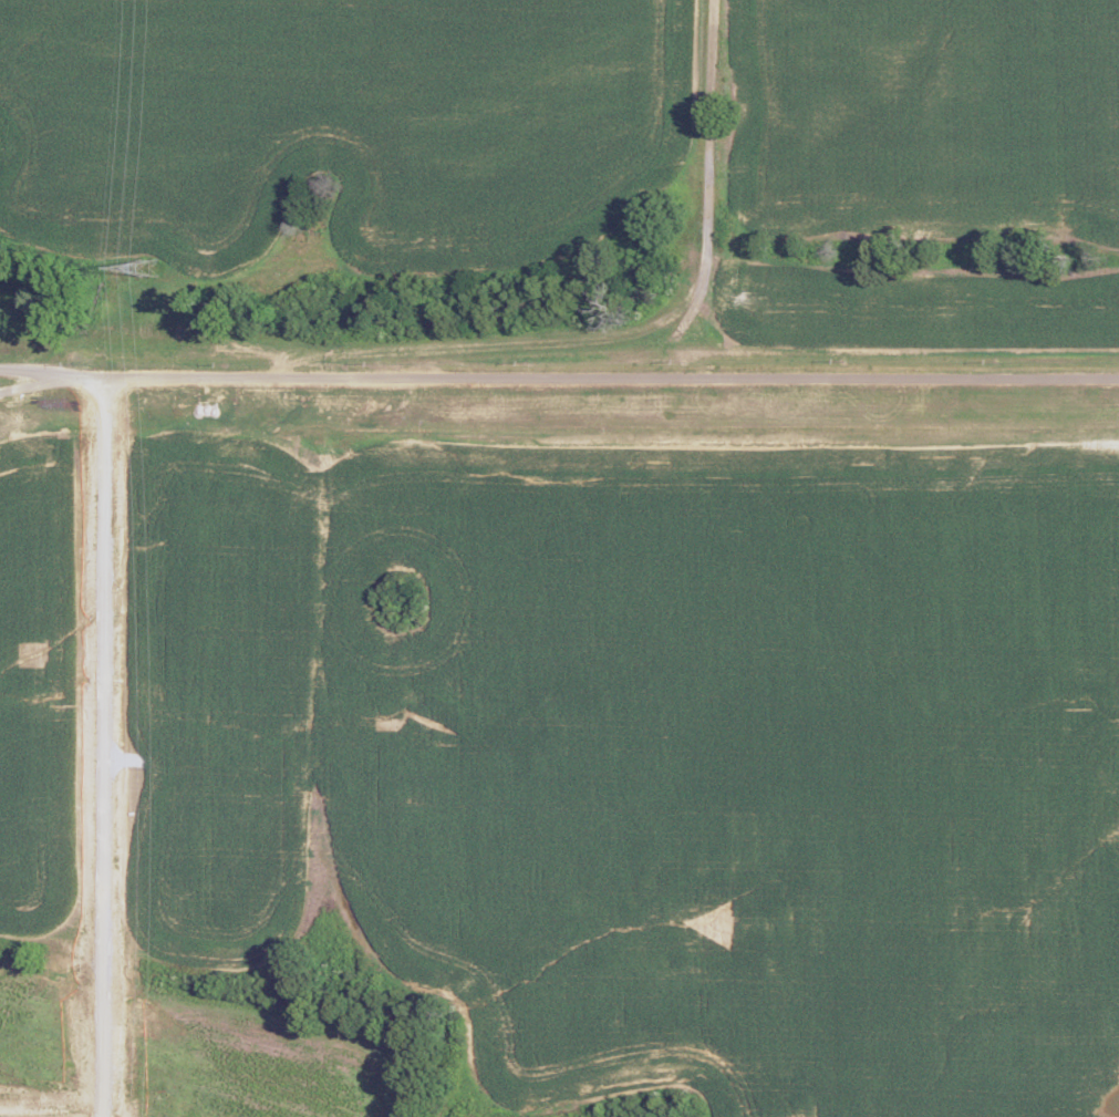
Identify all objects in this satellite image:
power tower: (146, 269)
road: (559, 379)
road: (101, 748)

